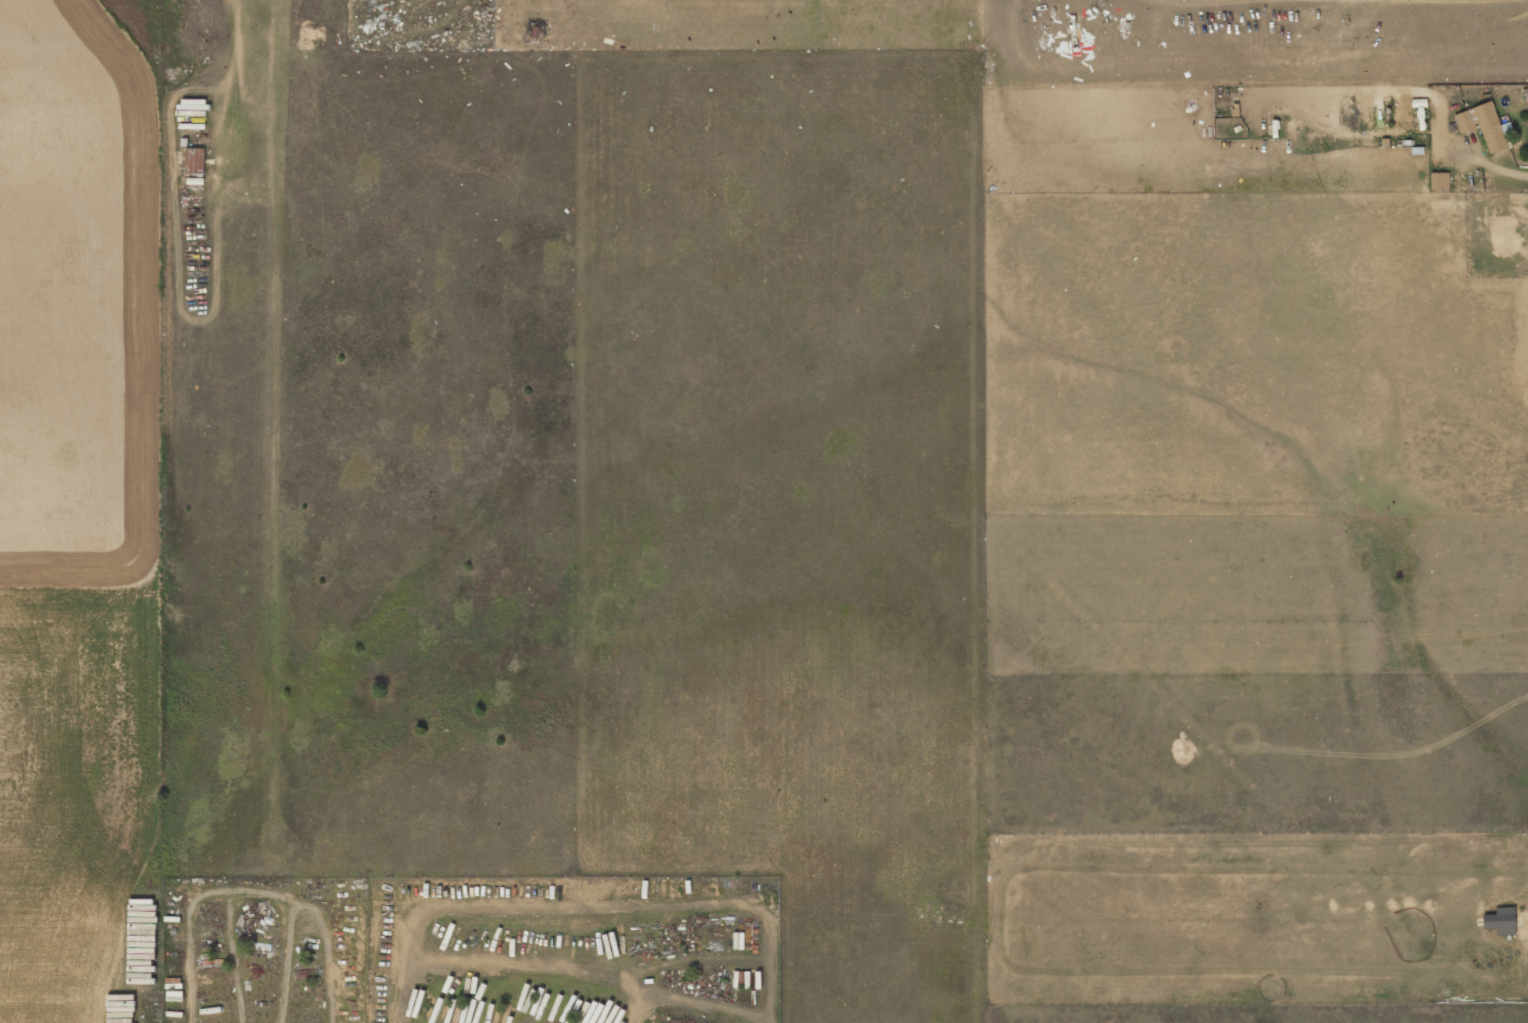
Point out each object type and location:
building: (195, 161)
building: (1440, 180)
building: (1501, 921)

